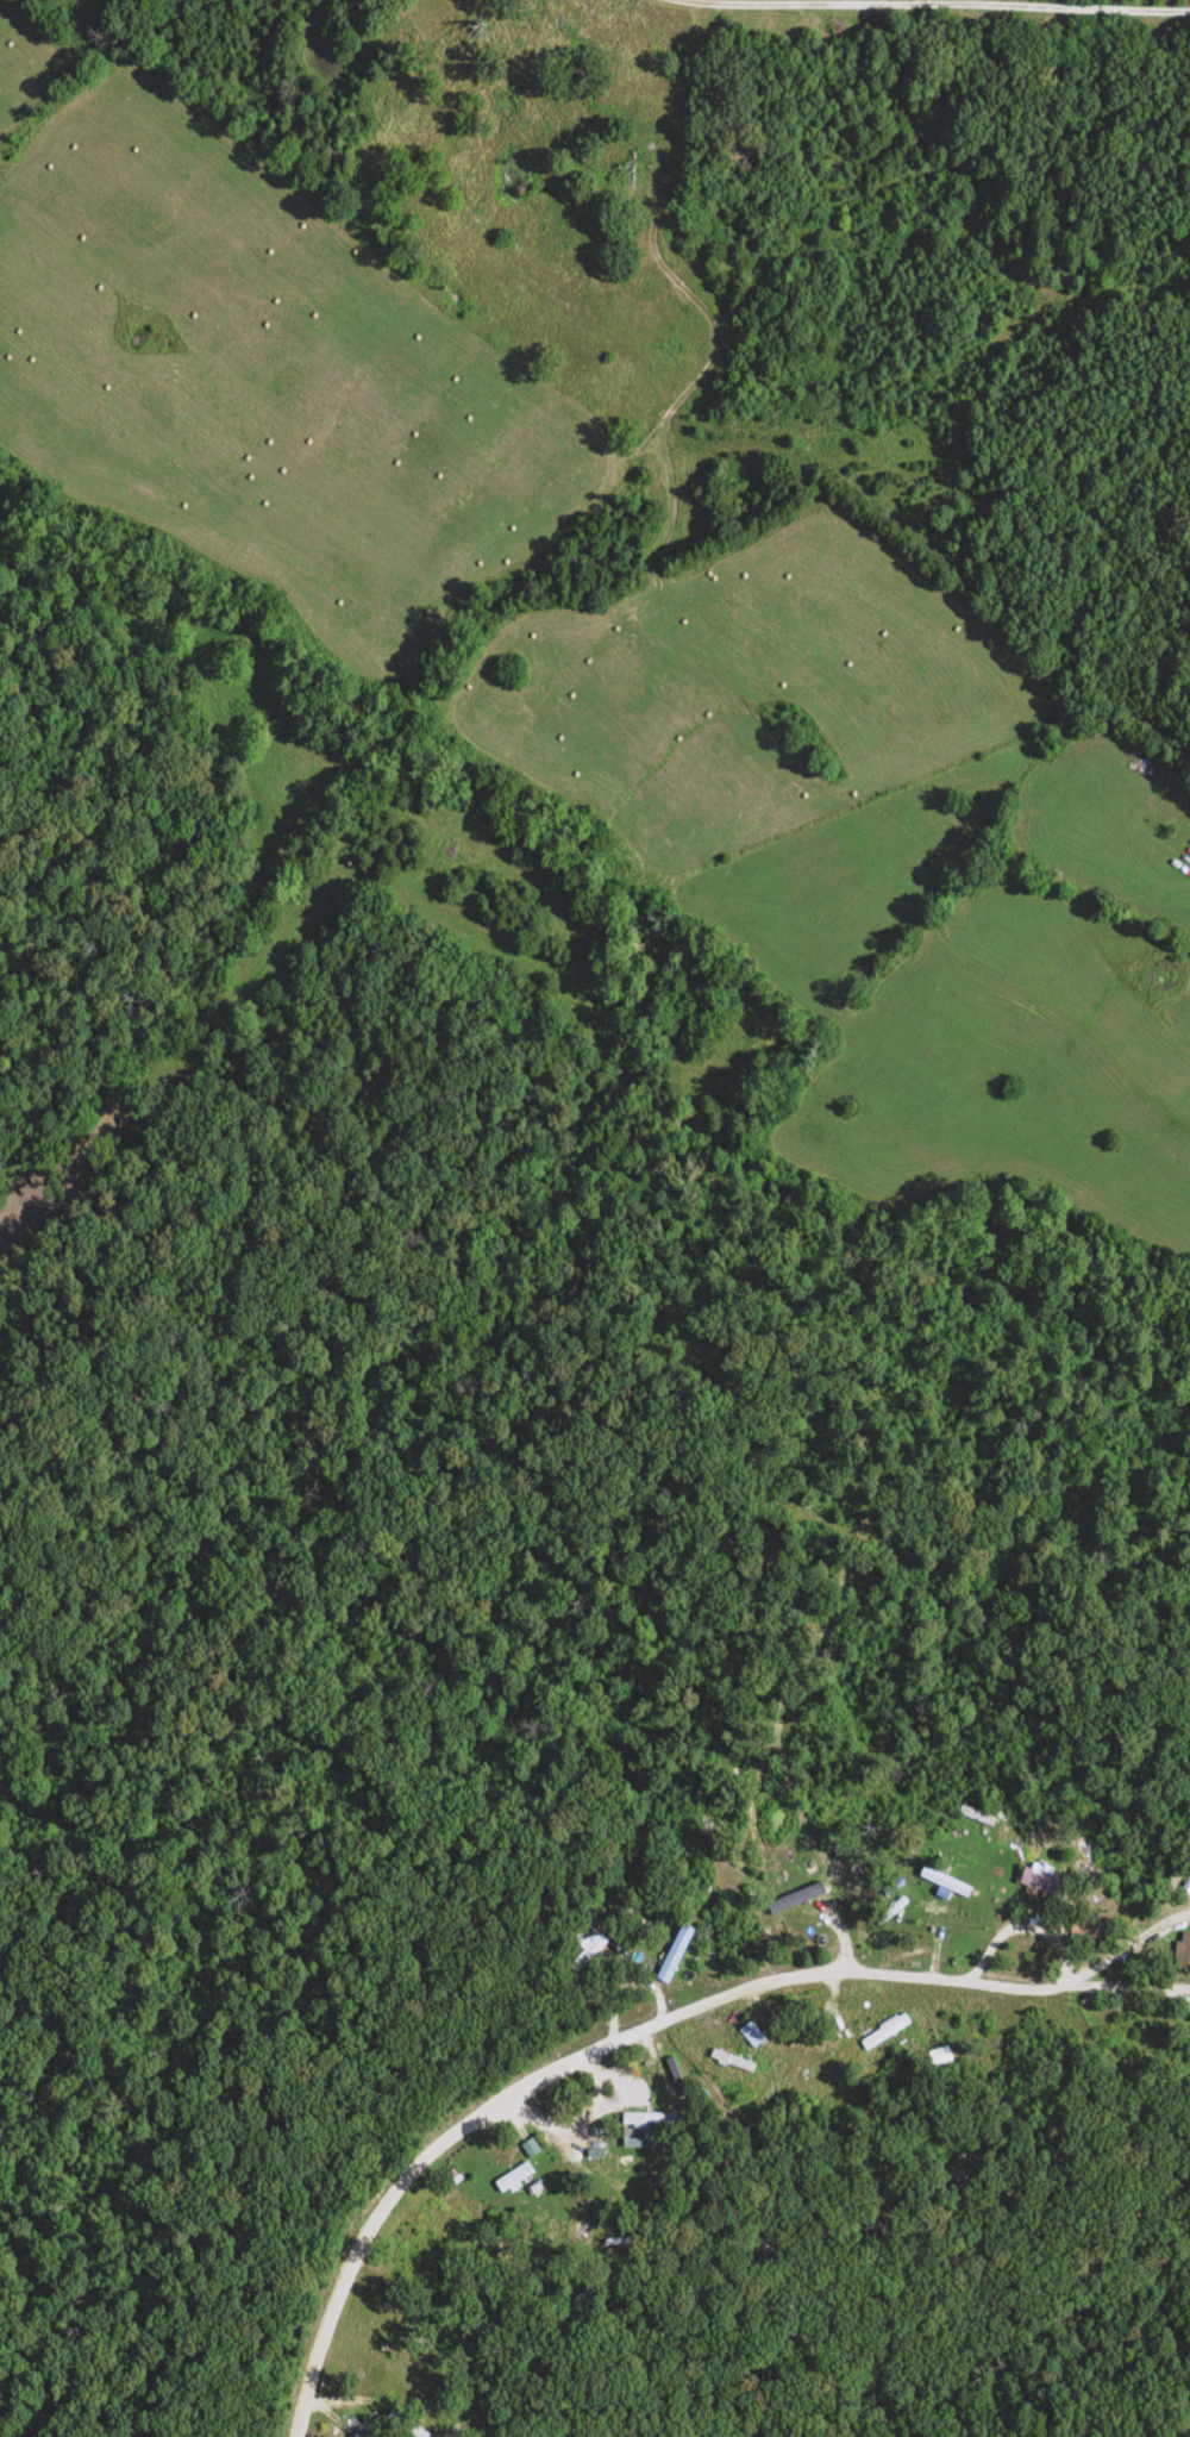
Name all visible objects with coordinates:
road: (929, 4)
building: (1032, 1880)
road: (1048, 1943)
building: (584, 1949)
building: (1180, 1949)
building: (747, 2036)
building: (823, 2058)
road: (525, 2075)
building: (638, 2138)
building: (477, 2175)
building: (358, 2433)

